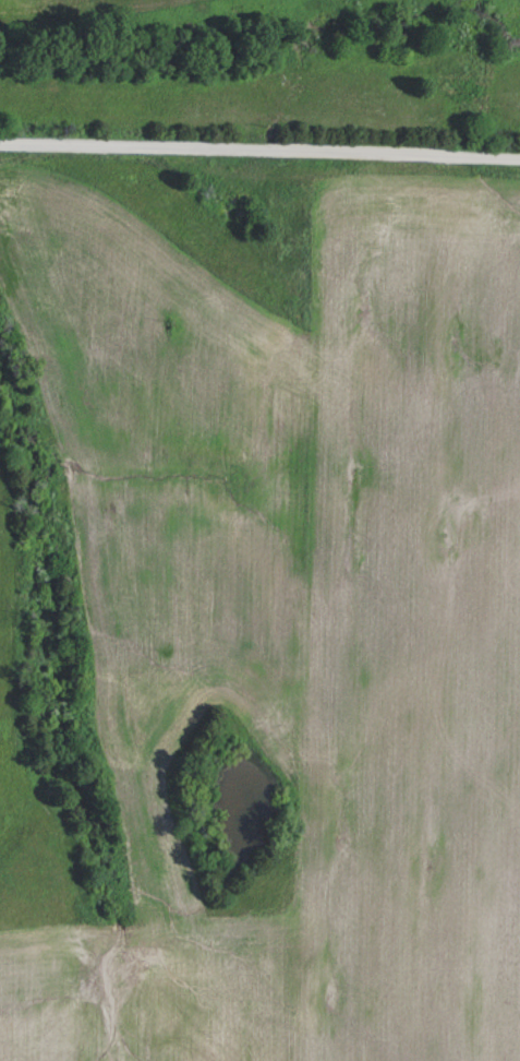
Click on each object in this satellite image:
road: (259, 146)

